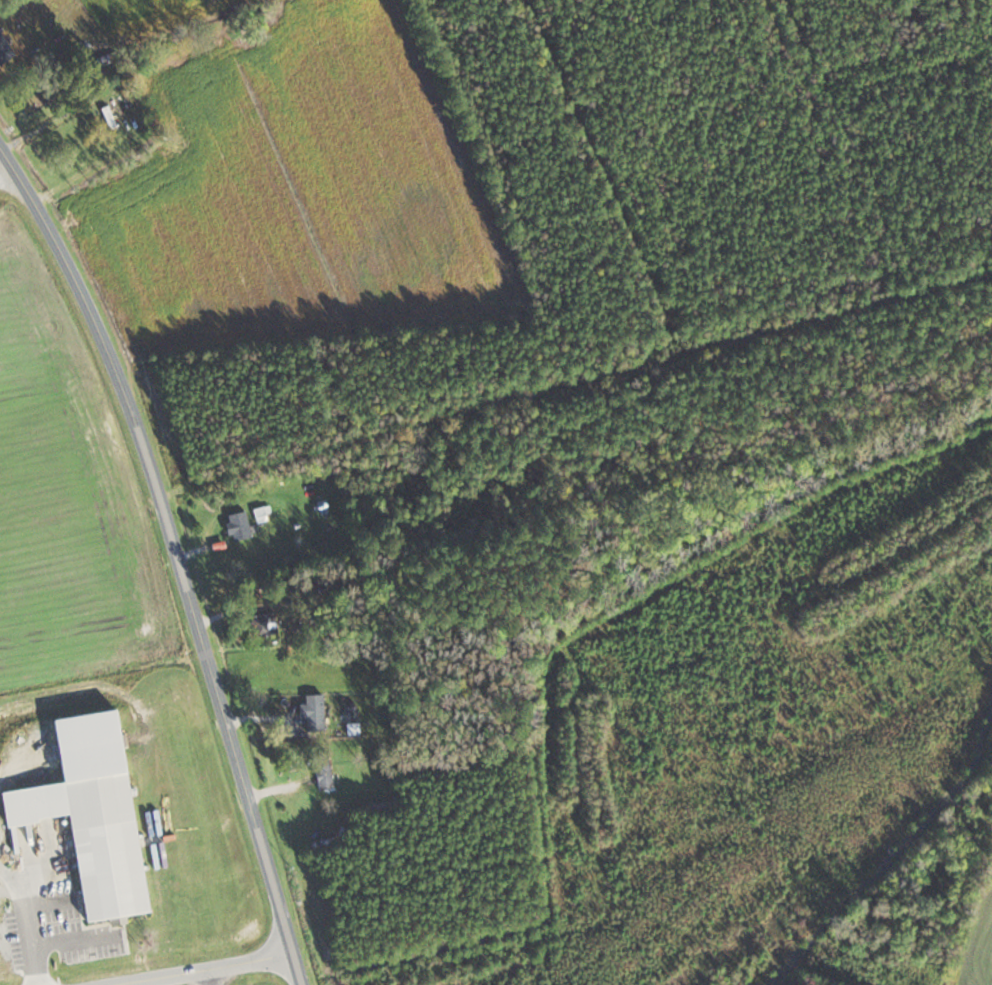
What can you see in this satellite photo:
building: (4, 48)
building: (34, 105)
road: (421, 426)
building: (264, 513)
building: (239, 525)
road: (178, 553)
building: (264, 624)
building: (314, 712)
building: (355, 728)
building: (325, 773)
building: (153, 811)
building: (105, 846)
road: (21, 925)
road: (204, 969)

